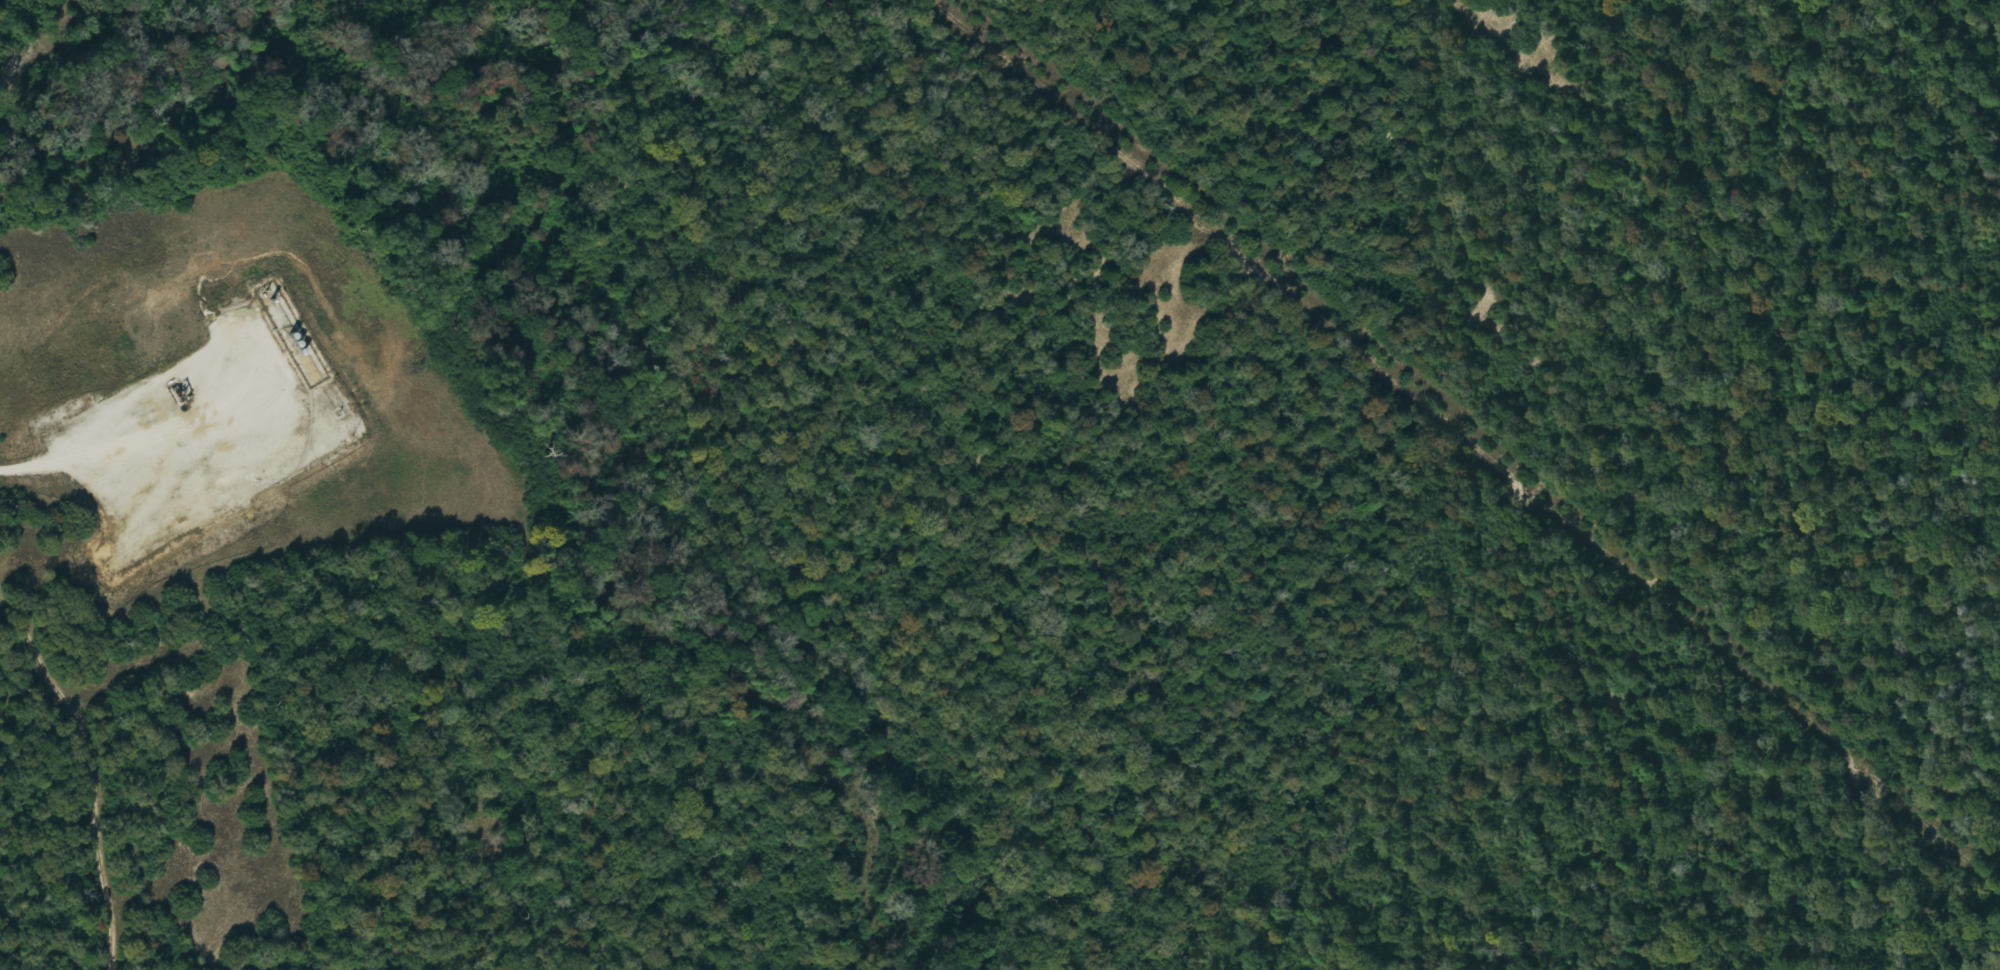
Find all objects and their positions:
road: (31, 46)

